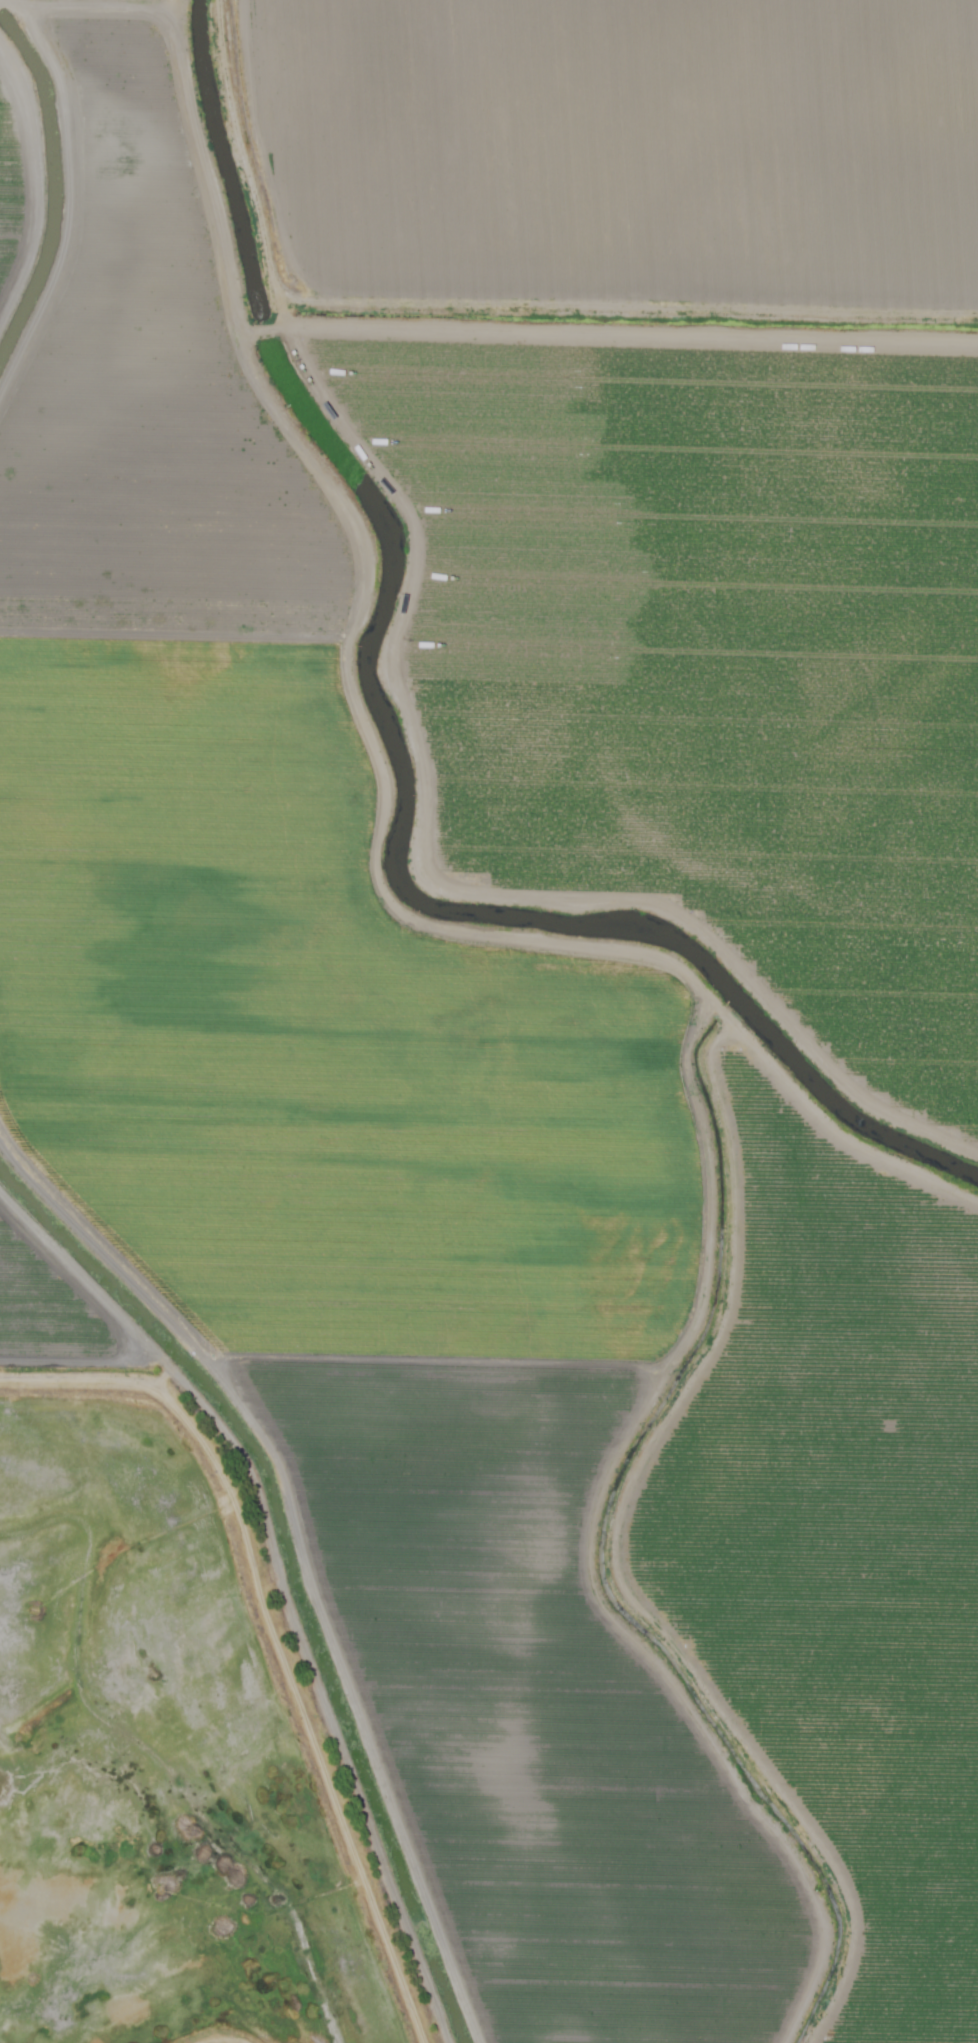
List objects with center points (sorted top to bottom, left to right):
crop: (531, 919)

